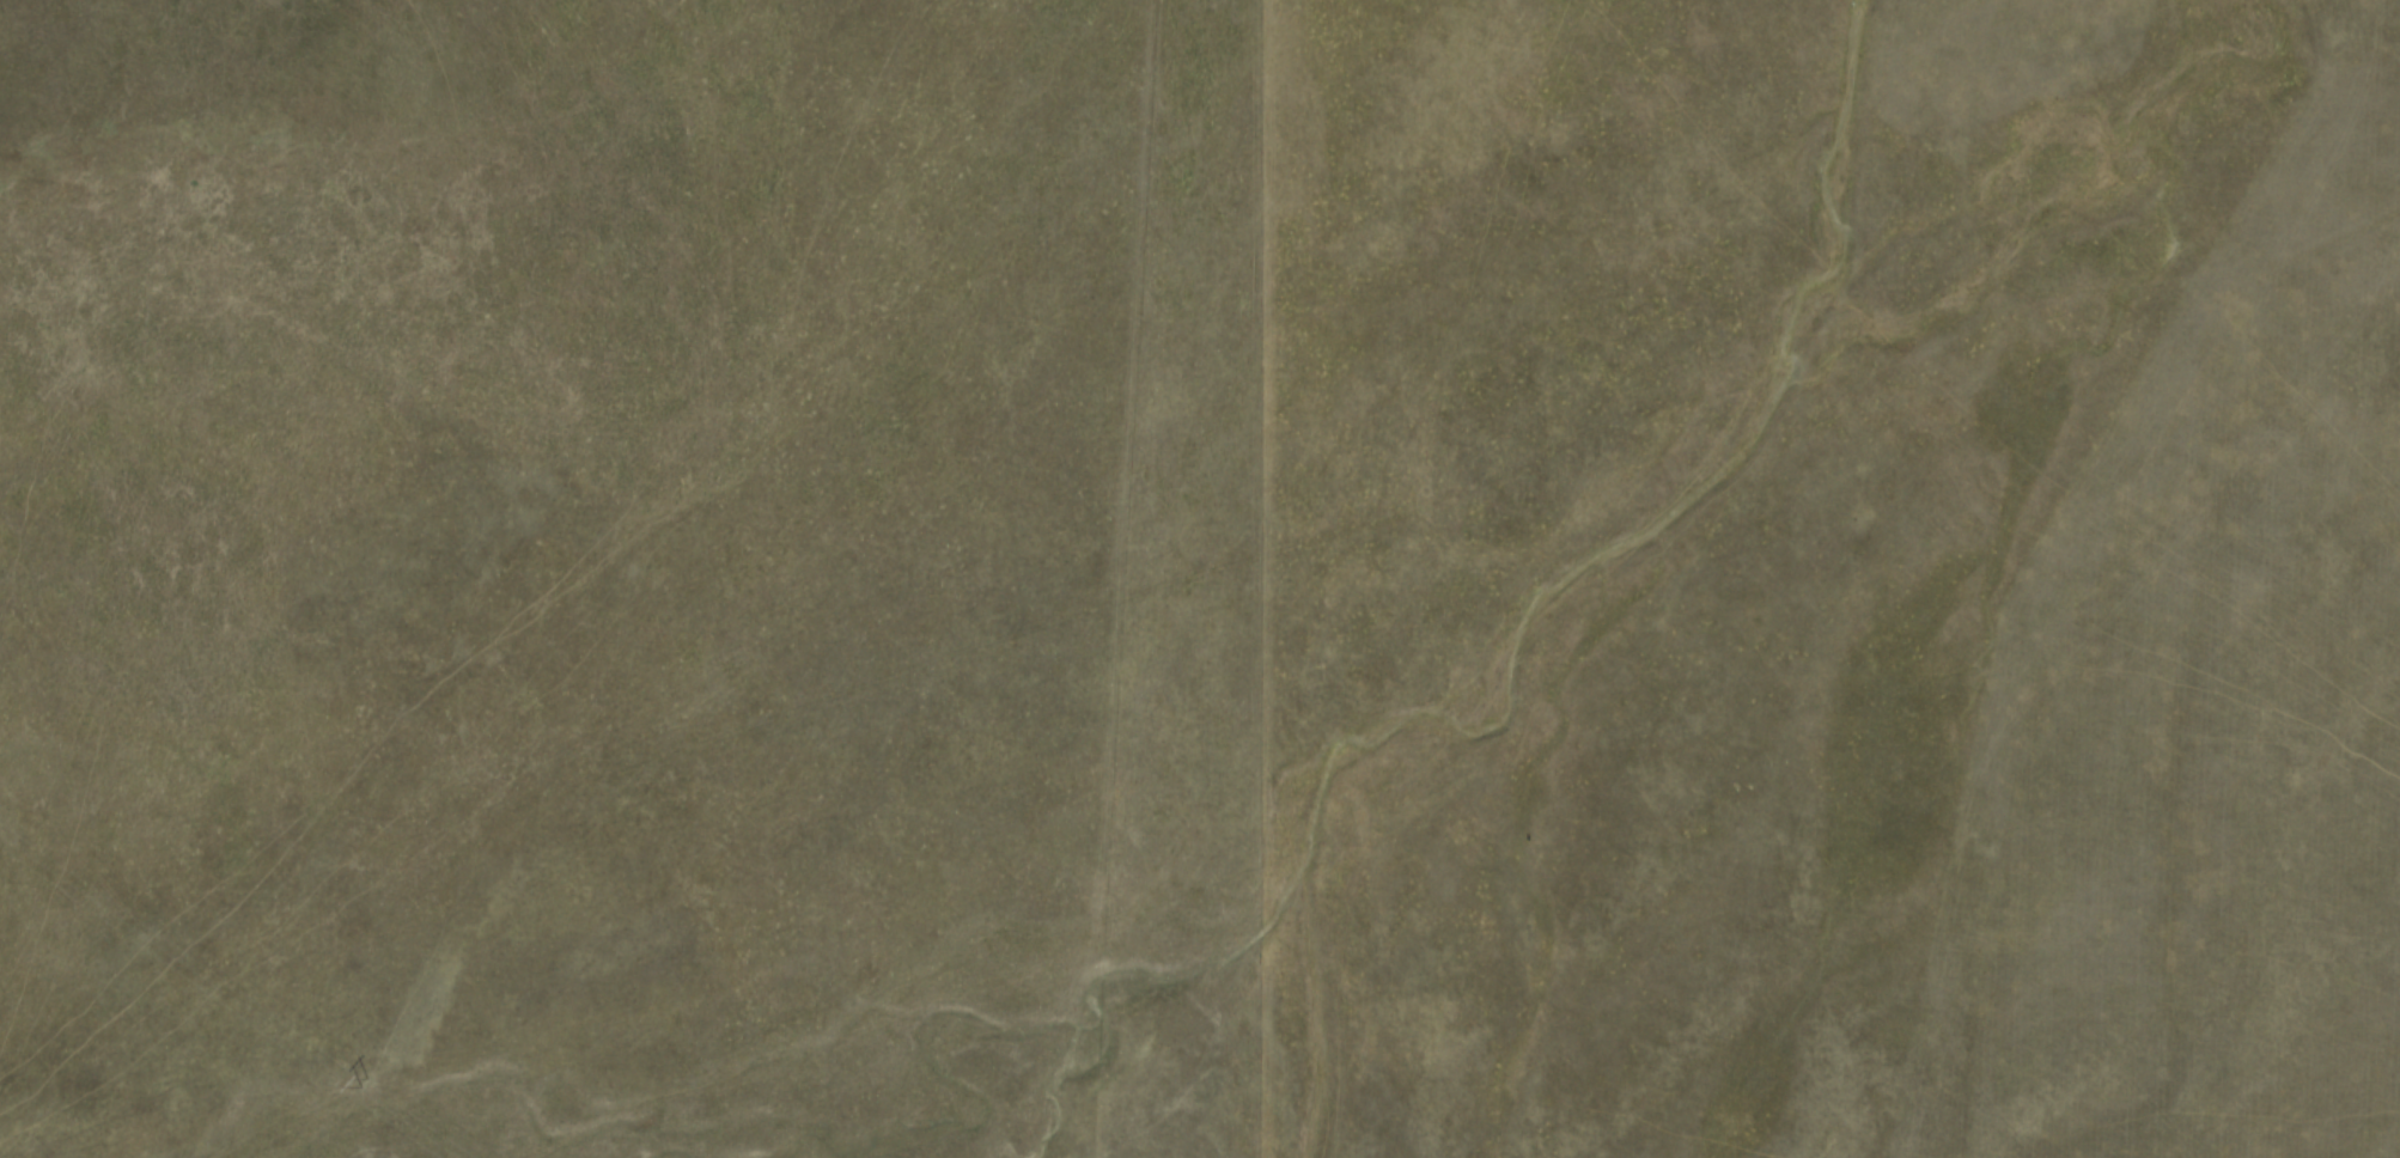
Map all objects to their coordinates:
power tower: (361, 1081)

